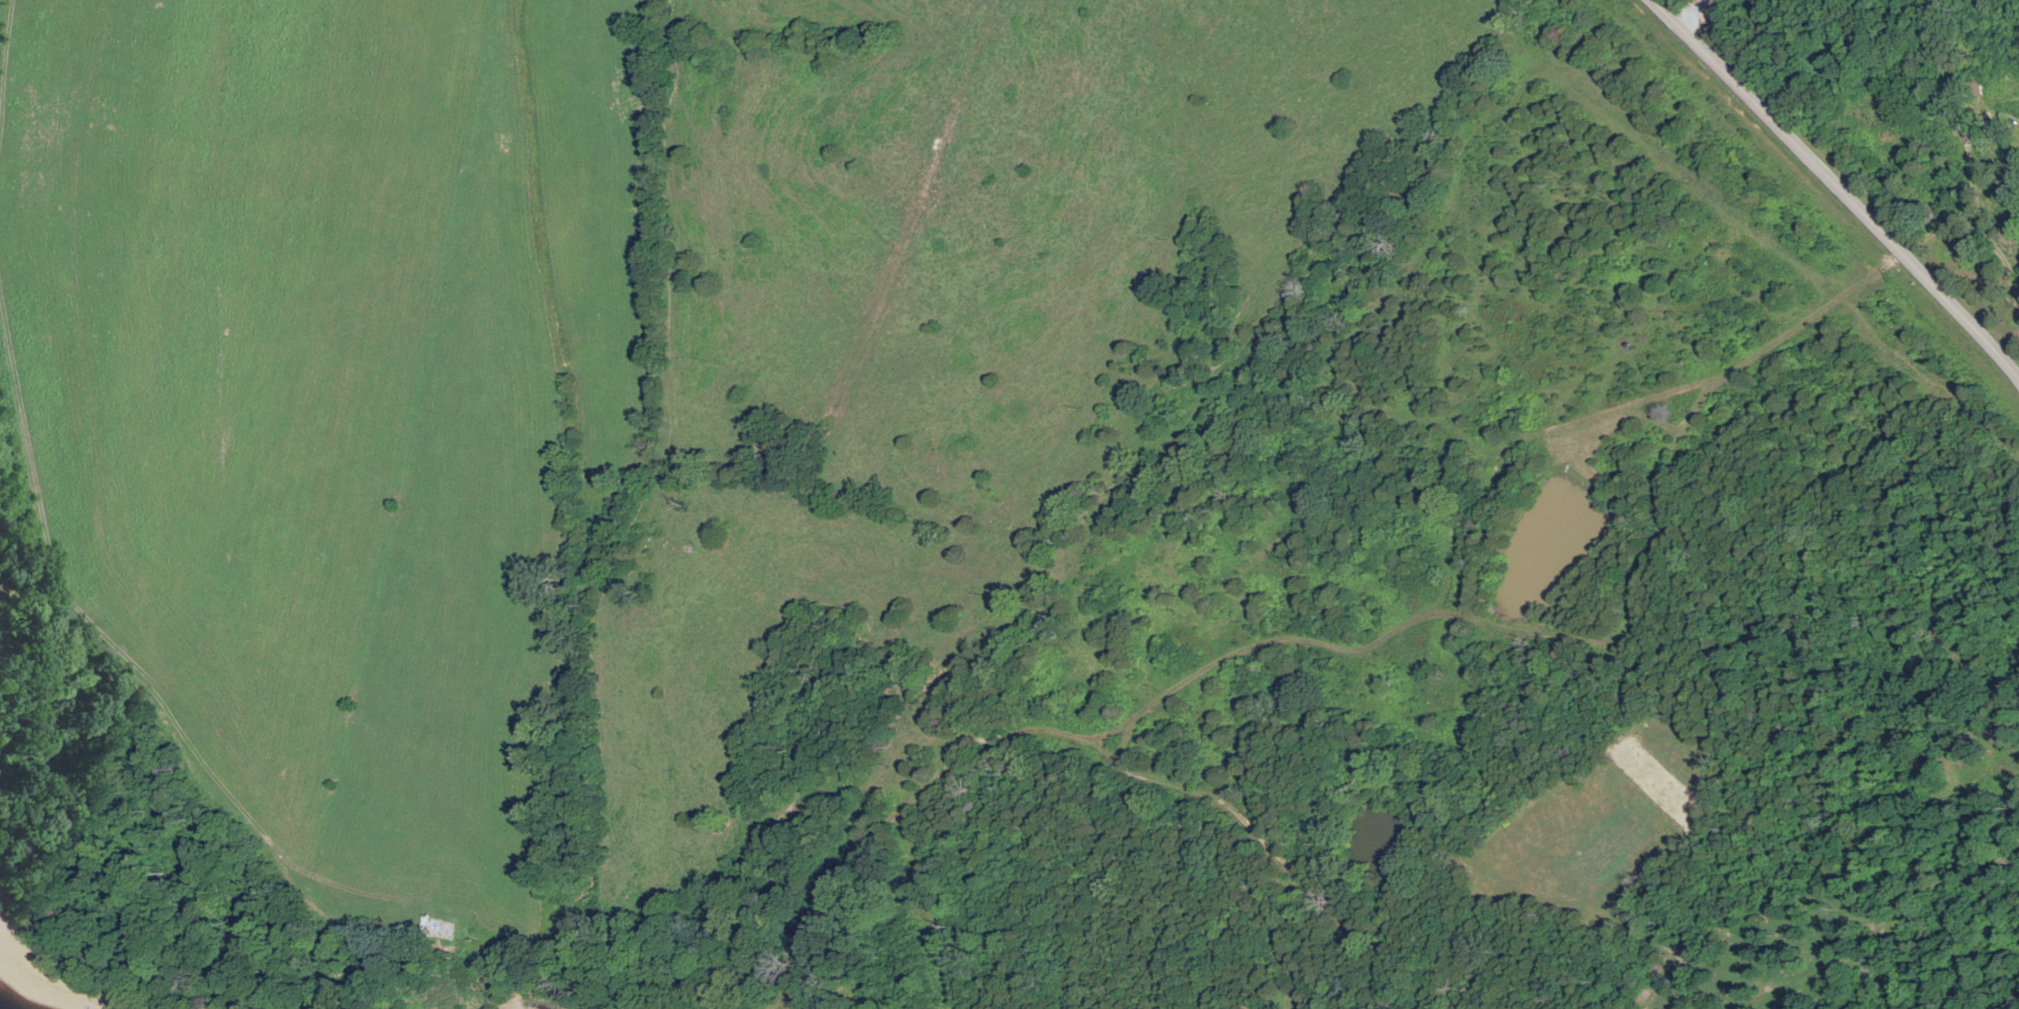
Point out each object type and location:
road: (1836, 187)
road: (1979, 200)
road: (2018, 288)
road: (874, 458)
road: (955, 762)

